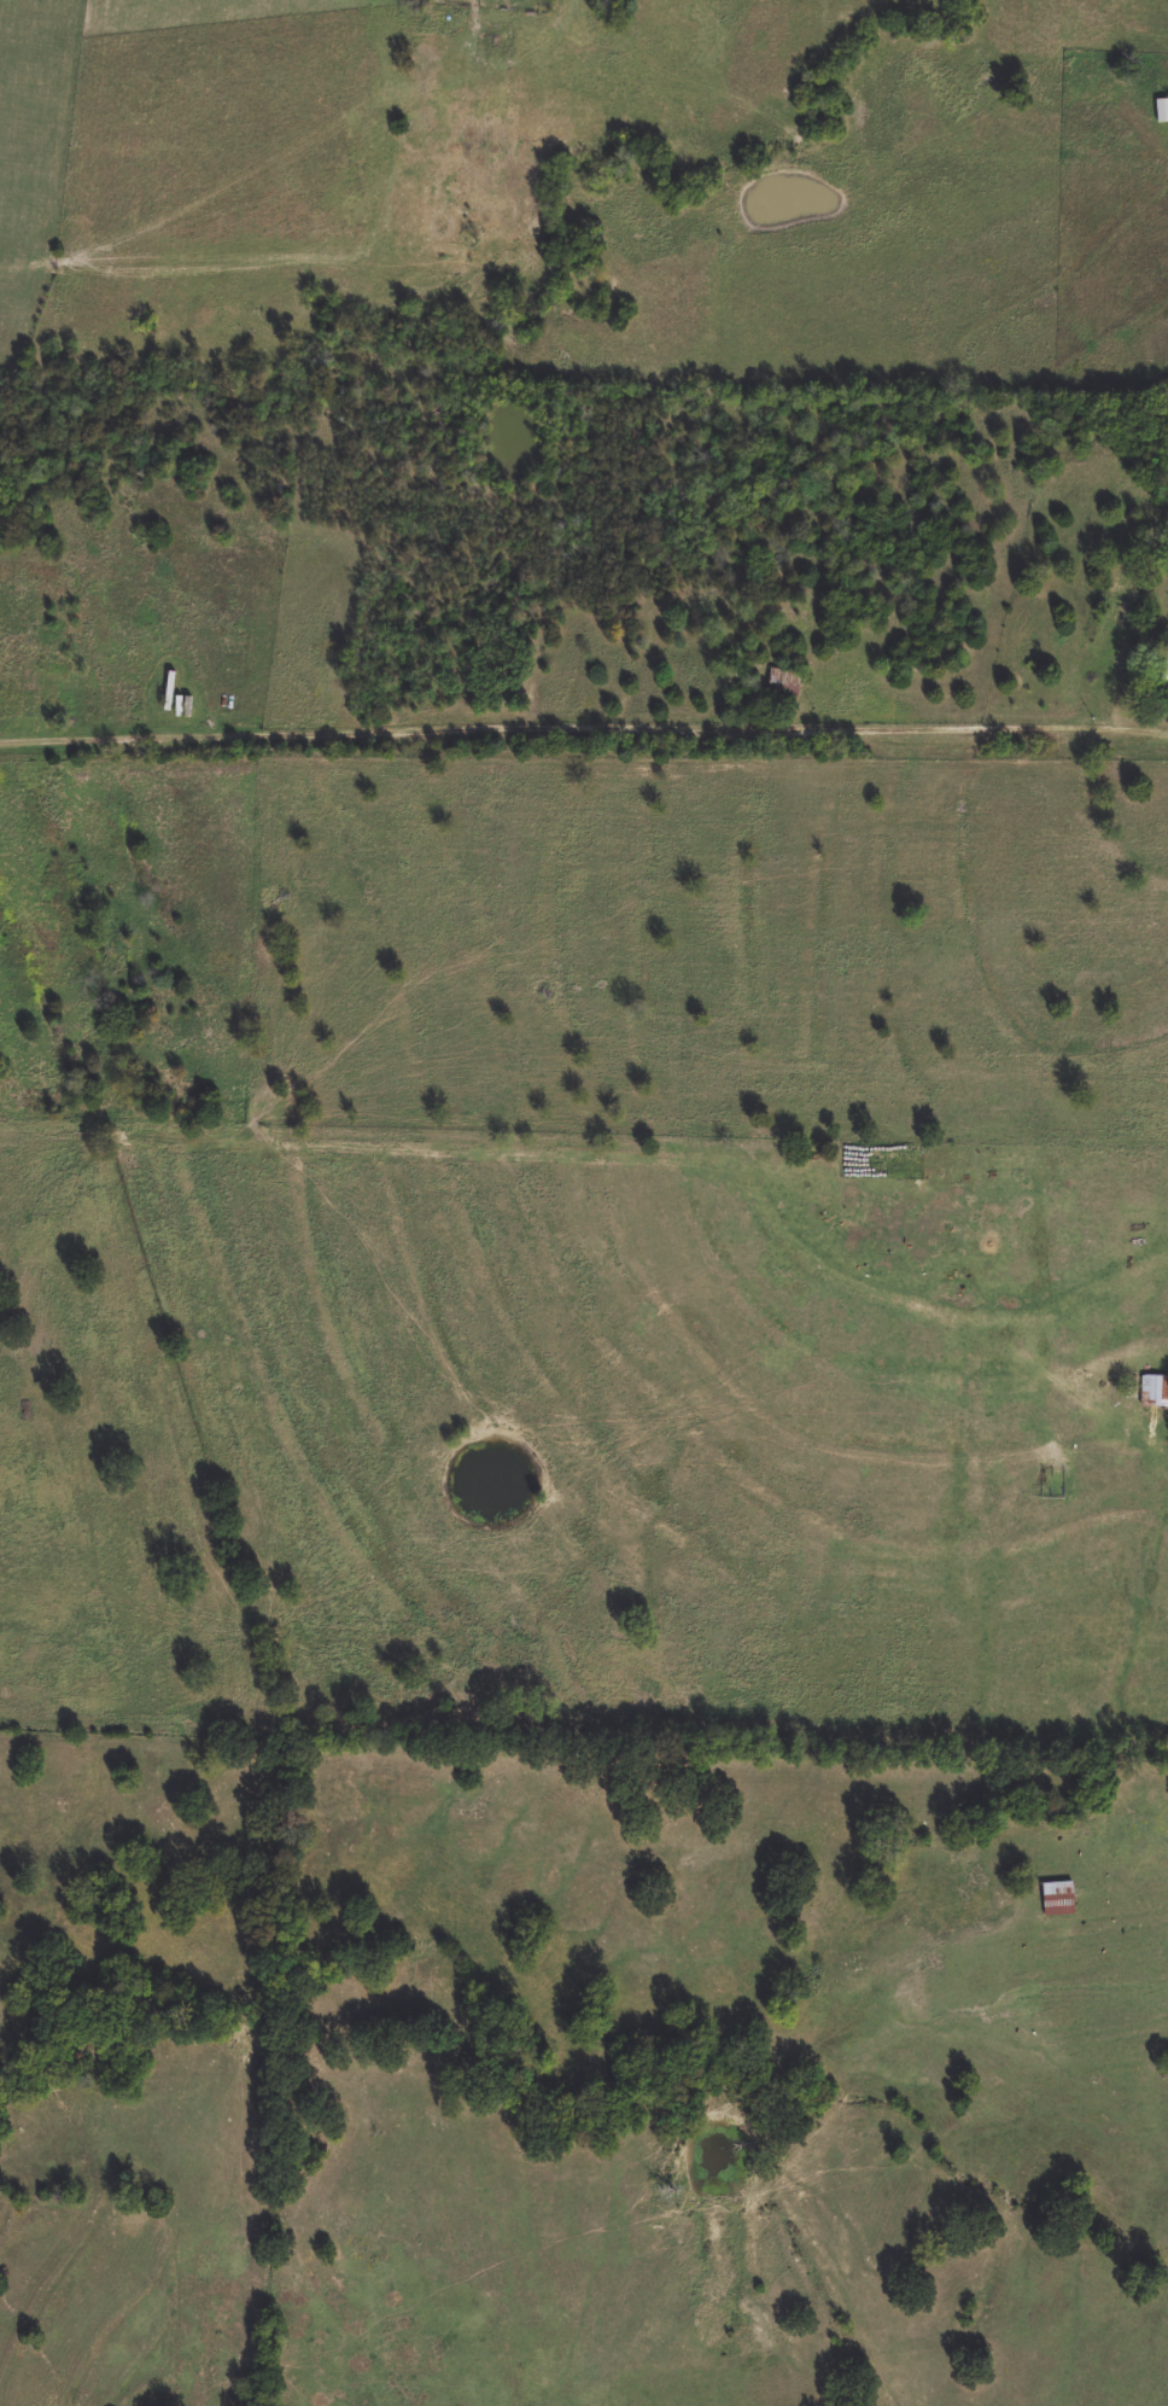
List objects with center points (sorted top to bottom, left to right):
building: (1162, 111)
road: (252, 205)
building: (1164, 671)
building: (786, 686)
building: (182, 707)
road: (583, 723)
building: (1155, 1392)
road: (1152, 1439)
building: (1059, 1899)

